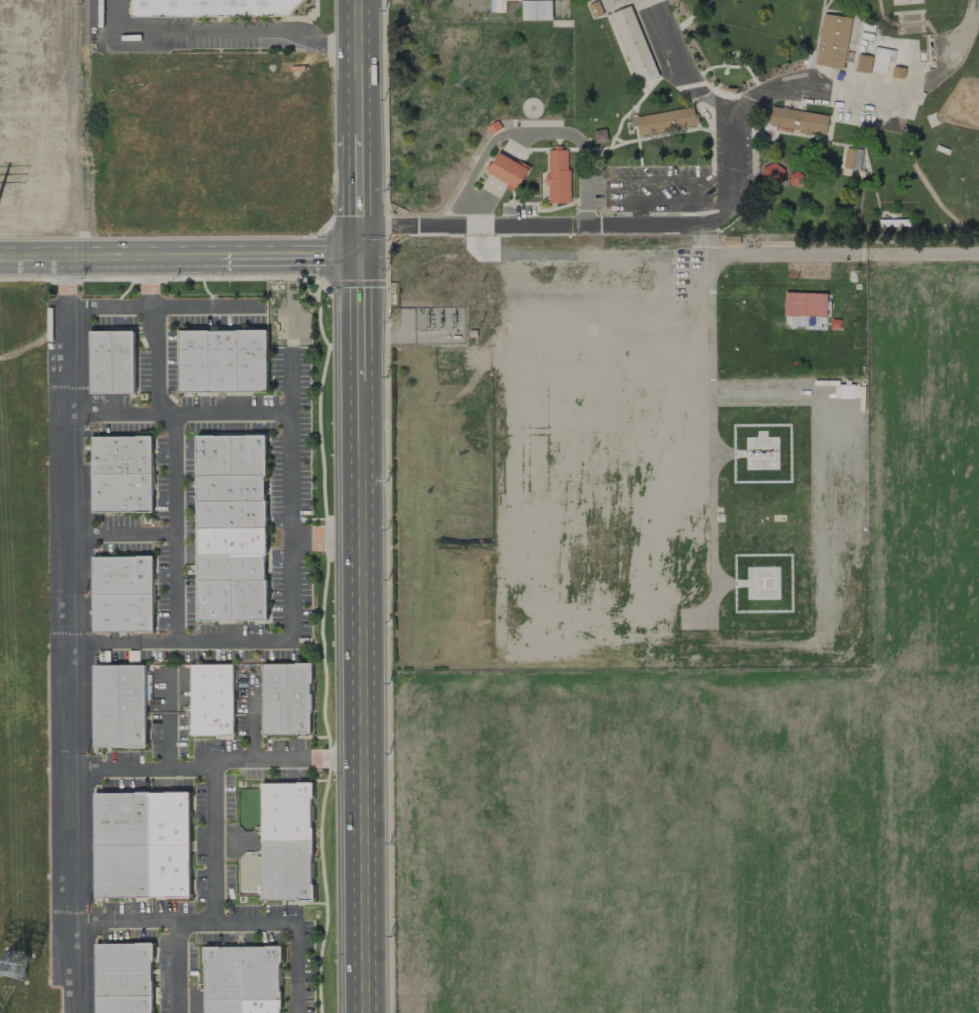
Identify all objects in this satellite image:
building: (213, 8)
building: (539, 10)
road: (265, 29)
road: (128, 30)
building: (833, 41)
building: (636, 47)
building: (880, 60)
road: (681, 66)
road: (358, 67)
building: (666, 120)
building: (798, 120)
road: (731, 127)
road: (493, 142)
road: (519, 144)
building: (507, 171)
building: (772, 174)
building: (558, 177)
road: (358, 183)
road: (585, 184)
road: (699, 203)
road: (486, 204)
road: (638, 214)
road: (648, 225)
road: (472, 226)
road: (359, 244)
road: (669, 255)
road: (180, 258)
building: (805, 304)
road: (164, 306)
road: (360, 320)
building: (223, 361)
building: (252, 361)
building: (102, 362)
building: (123, 362)
building: (193, 362)
road: (291, 381)
road: (243, 411)
helipad: (764, 454)
building: (121, 455)
building: (248, 455)
building: (214, 456)
building: (230, 488)
building: (122, 493)
road: (176, 505)
road: (338, 506)
road: (385, 506)
building: (231, 514)
road: (120, 532)
building: (231, 541)
building: (230, 567)
building: (122, 575)
helipad: (764, 581)
building: (248, 600)
building: (214, 601)
road: (293, 612)
building: (122, 613)
road: (61, 636)
road: (363, 697)
building: (286, 699)
building: (211, 700)
building: (119, 706)
road: (251, 715)
road: (166, 720)
road: (212, 760)
building: (286, 812)
building: (121, 819)
building: (169, 819)
road: (215, 840)
building: (121, 871)
building: (169, 871)
building: (286, 871)
road: (226, 922)
building: (123, 957)
power tower: (15, 966)
road: (178, 966)
building: (222, 973)
building: (261, 973)
building: (123, 983)
building: (123, 1004)
building: (223, 1006)
building: (261, 1006)

